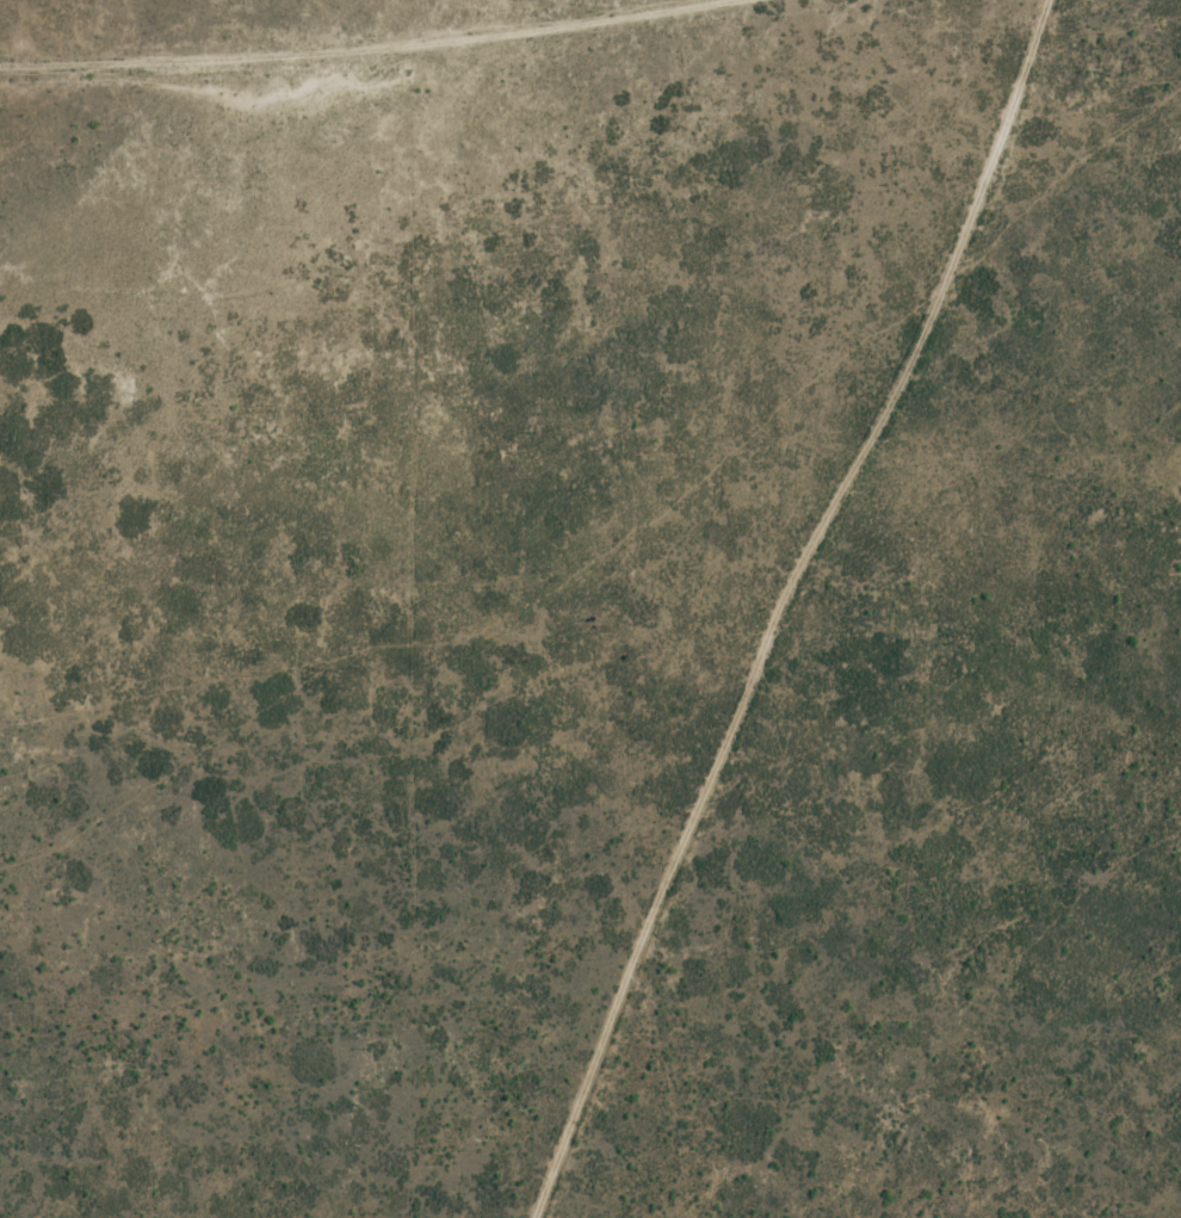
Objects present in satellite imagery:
road: (239, 14)
road: (759, 599)

